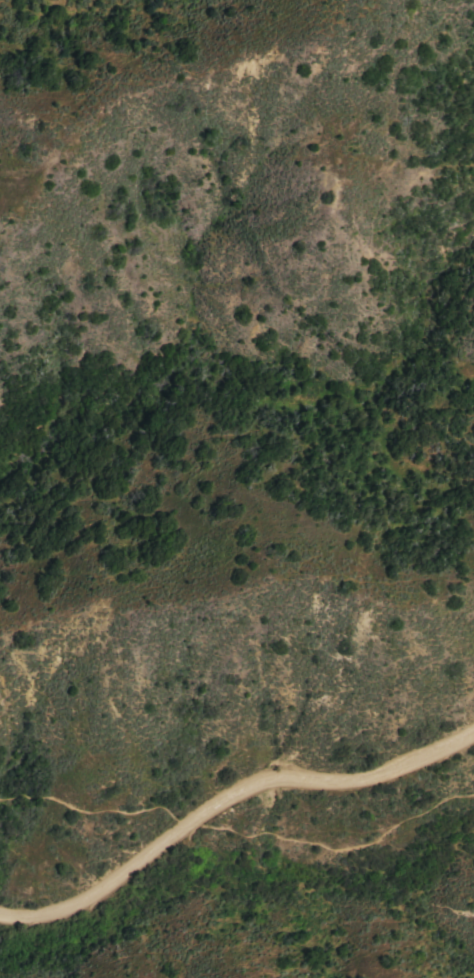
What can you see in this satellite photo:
road: (225, 795)
road: (238, 834)

